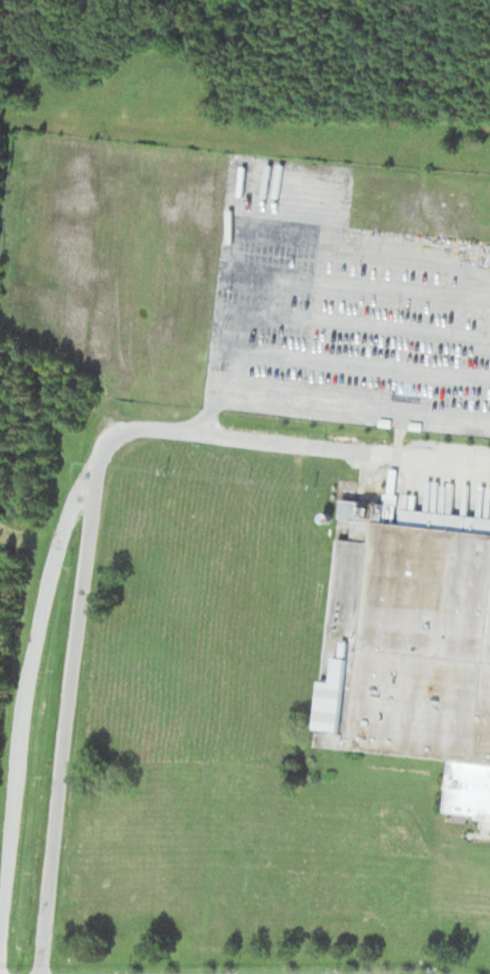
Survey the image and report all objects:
road: (72, 512)
building: (412, 644)

